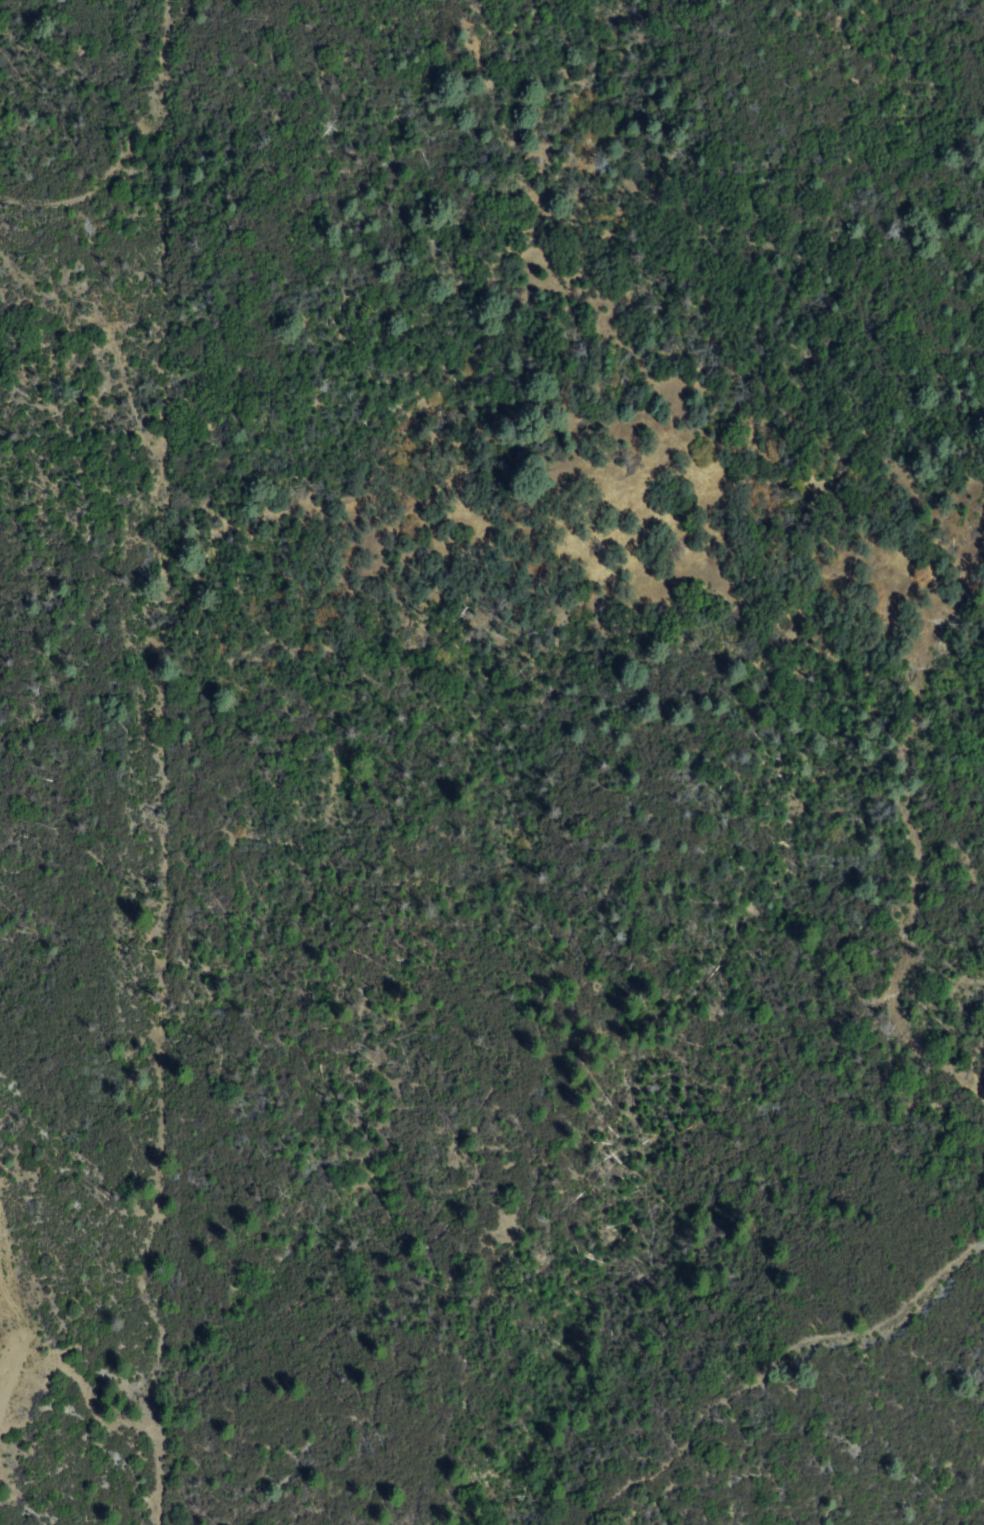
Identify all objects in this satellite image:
road: (13, 1405)

